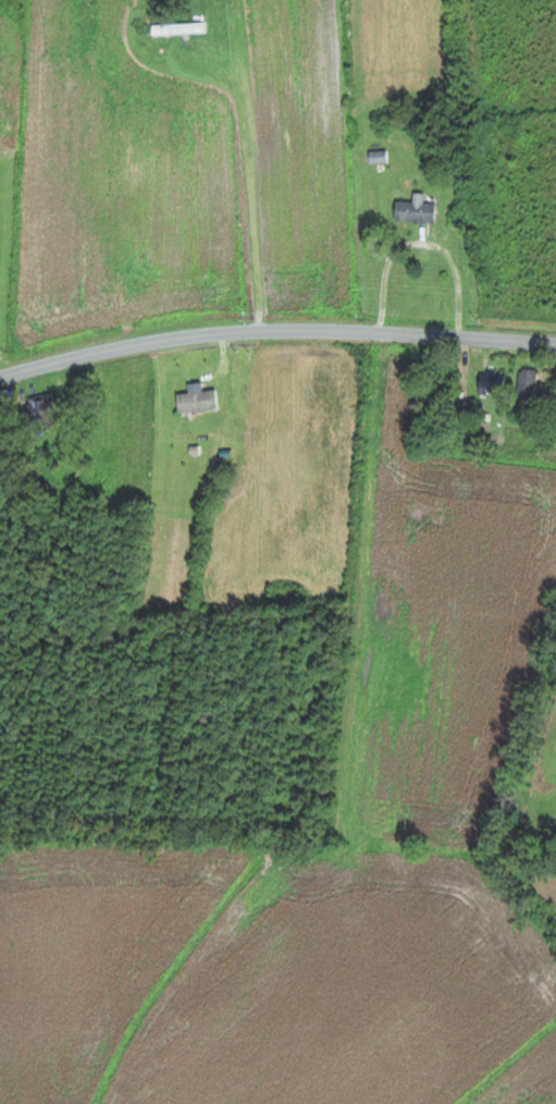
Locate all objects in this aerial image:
building: (176, 28)
building: (378, 157)
road: (27, 167)
road: (234, 182)
building: (416, 210)
road: (454, 268)
road: (275, 329)
building: (492, 384)
building: (527, 388)
building: (197, 402)
building: (41, 410)
road: (10, 809)

